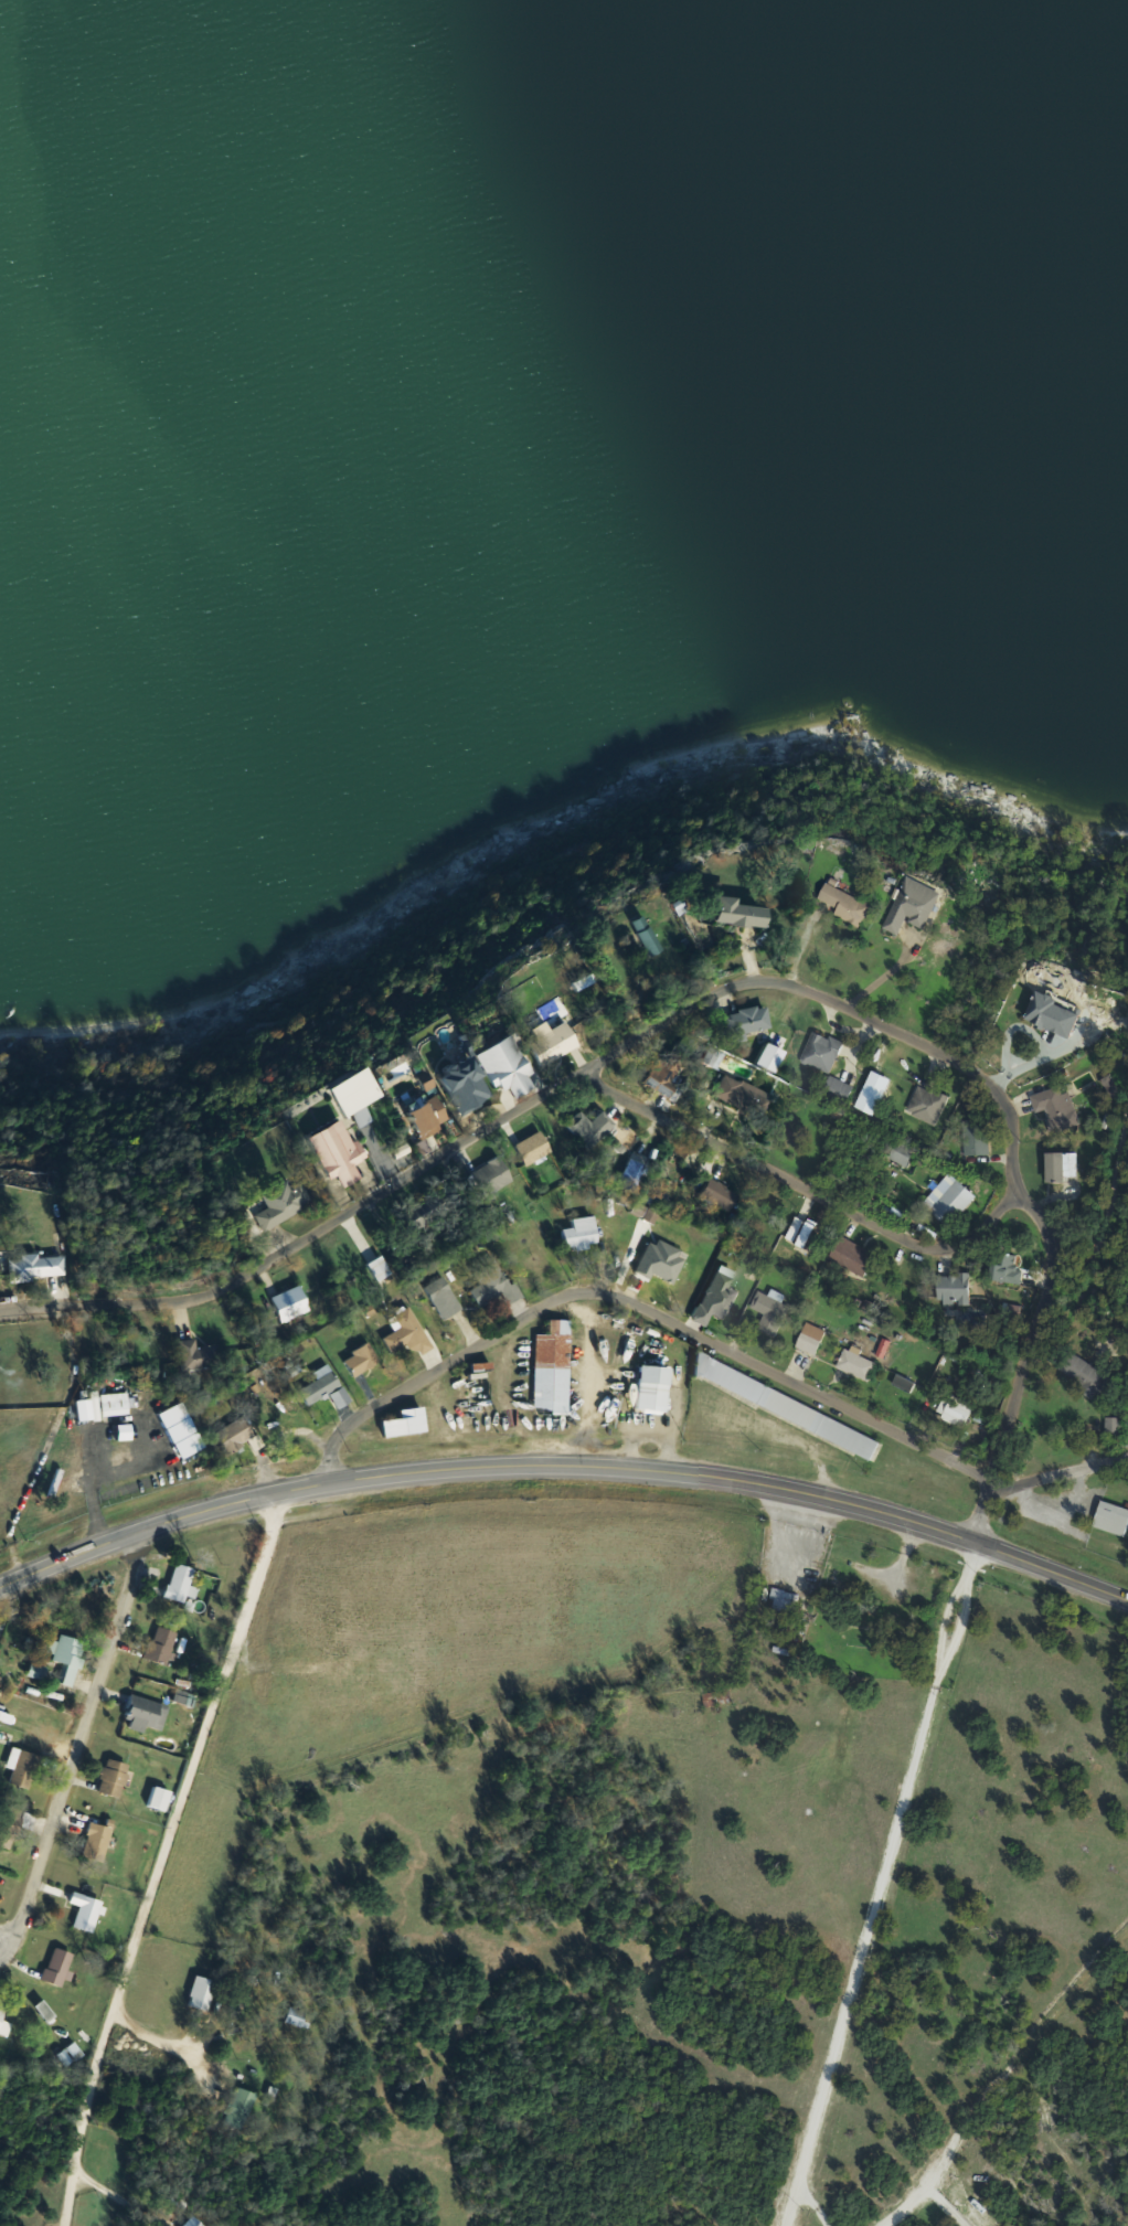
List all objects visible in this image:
building: (917, 905)
building: (742, 912)
building: (647, 930)
building: (1061, 1014)
building: (748, 1022)
building: (557, 1043)
building: (823, 1052)
building: (511, 1067)
building: (664, 1078)
building: (470, 1085)
building: (360, 1091)
building: (745, 1091)
road: (531, 1103)
building: (928, 1105)
building: (1058, 1108)
building: (433, 1117)
building: (341, 1152)
building: (1065, 1167)
building: (635, 1175)
road: (802, 1181)
road: (1107, 1185)
building: (726, 1197)
building: (951, 1201)
building: (284, 1202)
building: (423, 1212)
building: (583, 1233)
building: (806, 1234)
building: (855, 1257)
building: (0, 1261)
building: (40, 1267)
building: (1010, 1269)
building: (496, 1285)
building: (955, 1288)
building: (445, 1298)
building: (719, 1299)
building: (292, 1303)
building: (773, 1312)
building: (407, 1333)
road: (1033, 1335)
road: (703, 1341)
building: (815, 1341)
building: (363, 1360)
building: (568, 1362)
building: (859, 1364)
building: (1087, 1374)
building: (327, 1388)
building: (656, 1389)
building: (479, 1398)
building: (116, 1404)
building: (788, 1406)
building: (958, 1413)
building: (408, 1423)
building: (1115, 1430)
building: (235, 1437)
road: (565, 1467)
building: (1113, 1519)
building: (182, 1583)
building: (786, 1601)
building: (162, 1645)
building: (71, 1658)
building: (39, 1672)
building: (146, 1714)
road: (84, 1739)
building: (24, 1768)
building: (115, 1778)
building: (161, 1799)
building: (10, 1825)
building: (97, 1842)
road: (163, 1861)
road: (875, 1883)
building: (87, 1911)
building: (60, 1968)
building: (203, 1993)
building: (299, 2015)
building: (4, 2025)
road: (160, 2042)
building: (71, 2055)
building: (242, 2109)
road: (921, 2193)
road: (115, 2195)
road: (810, 2204)
building: (196, 2222)

